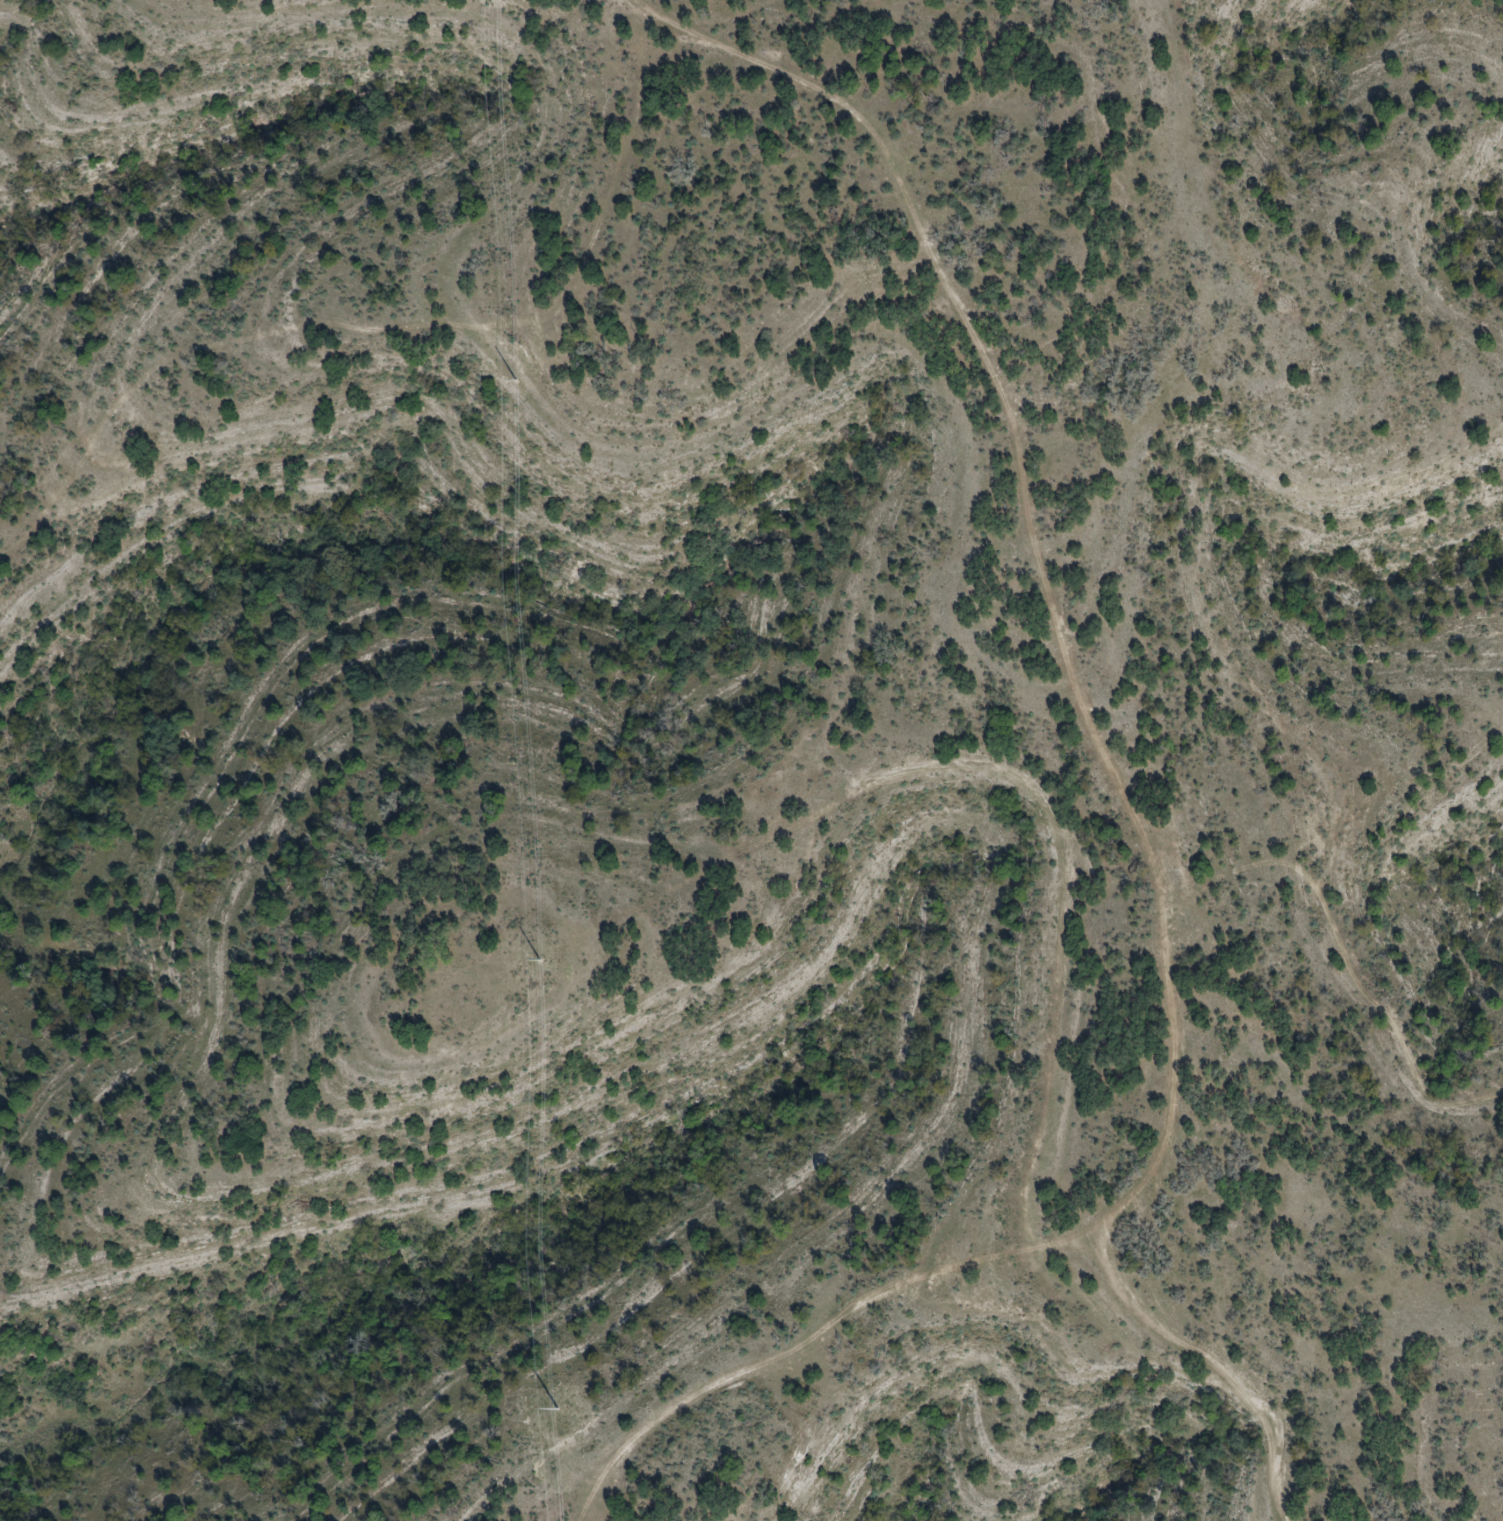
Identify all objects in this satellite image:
power tower: (518, 380)
power tower: (539, 961)
power tower: (558, 1410)

